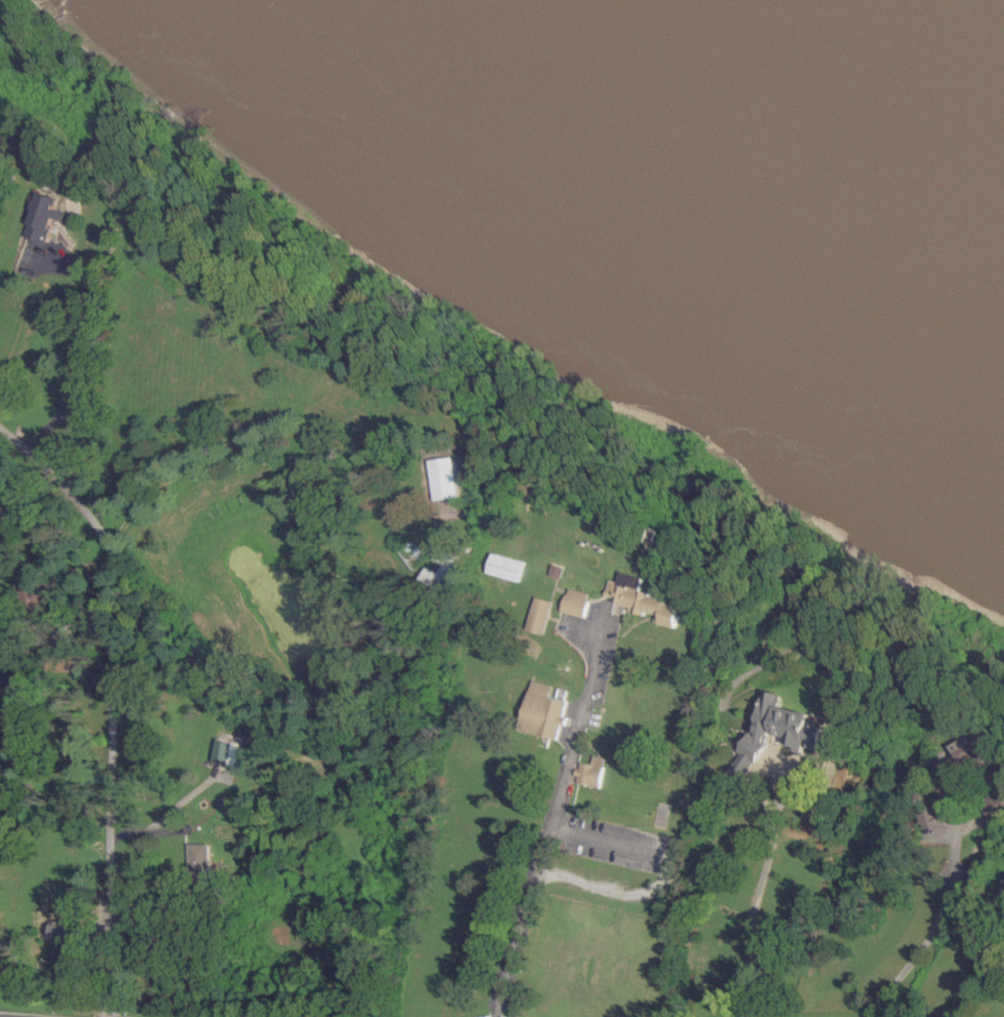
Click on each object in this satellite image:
river: (939, 42)
building: (44, 216)
building: (110, 238)
road: (85, 355)
road: (257, 438)
building: (445, 477)
building: (506, 566)
building: (443, 568)
building: (643, 598)
building: (576, 601)
building: (539, 614)
road: (111, 700)
building: (543, 710)
building: (778, 731)
building: (226, 751)
building: (985, 768)
building: (591, 771)
road: (548, 820)
road: (605, 837)
building: (198, 857)
road: (754, 896)
road: (934, 929)
road: (980, 985)
road: (3, 1016)

